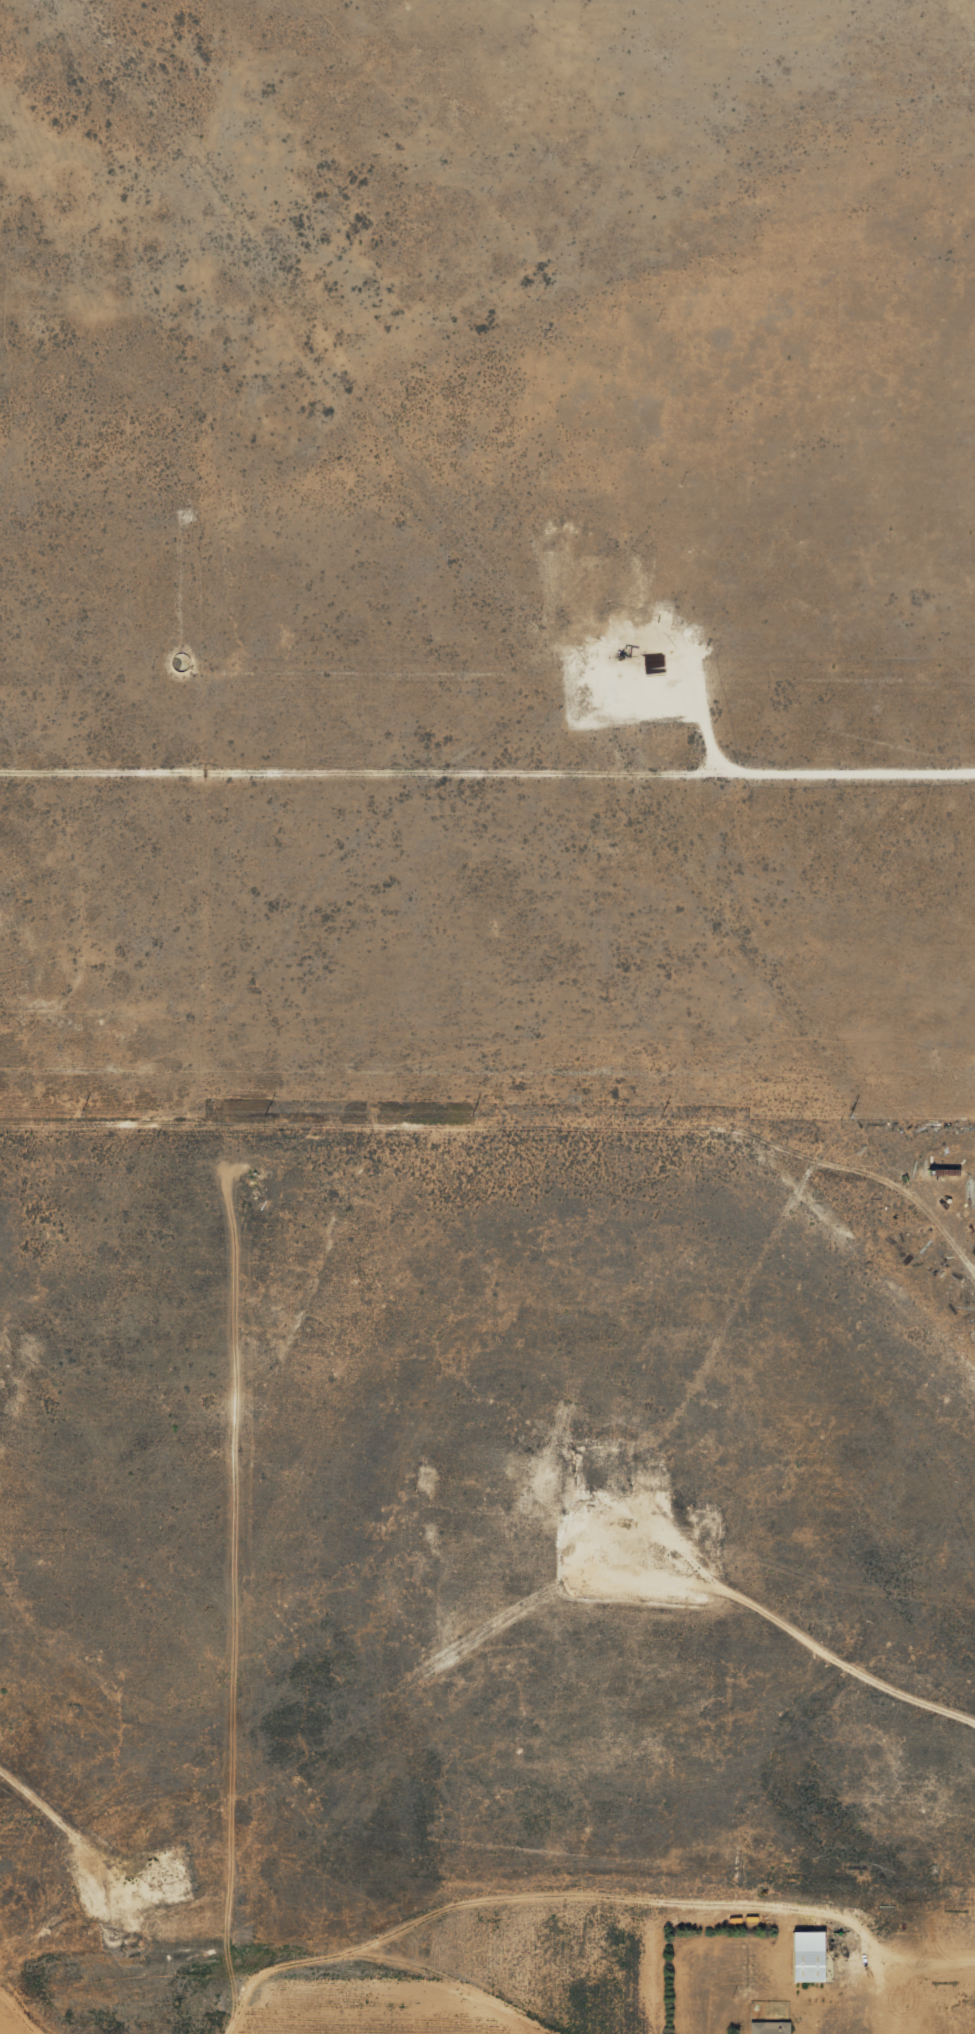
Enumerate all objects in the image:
road: (803, 2)
road: (2, 345)
road: (538, 609)
road: (679, 804)
road: (58, 833)

